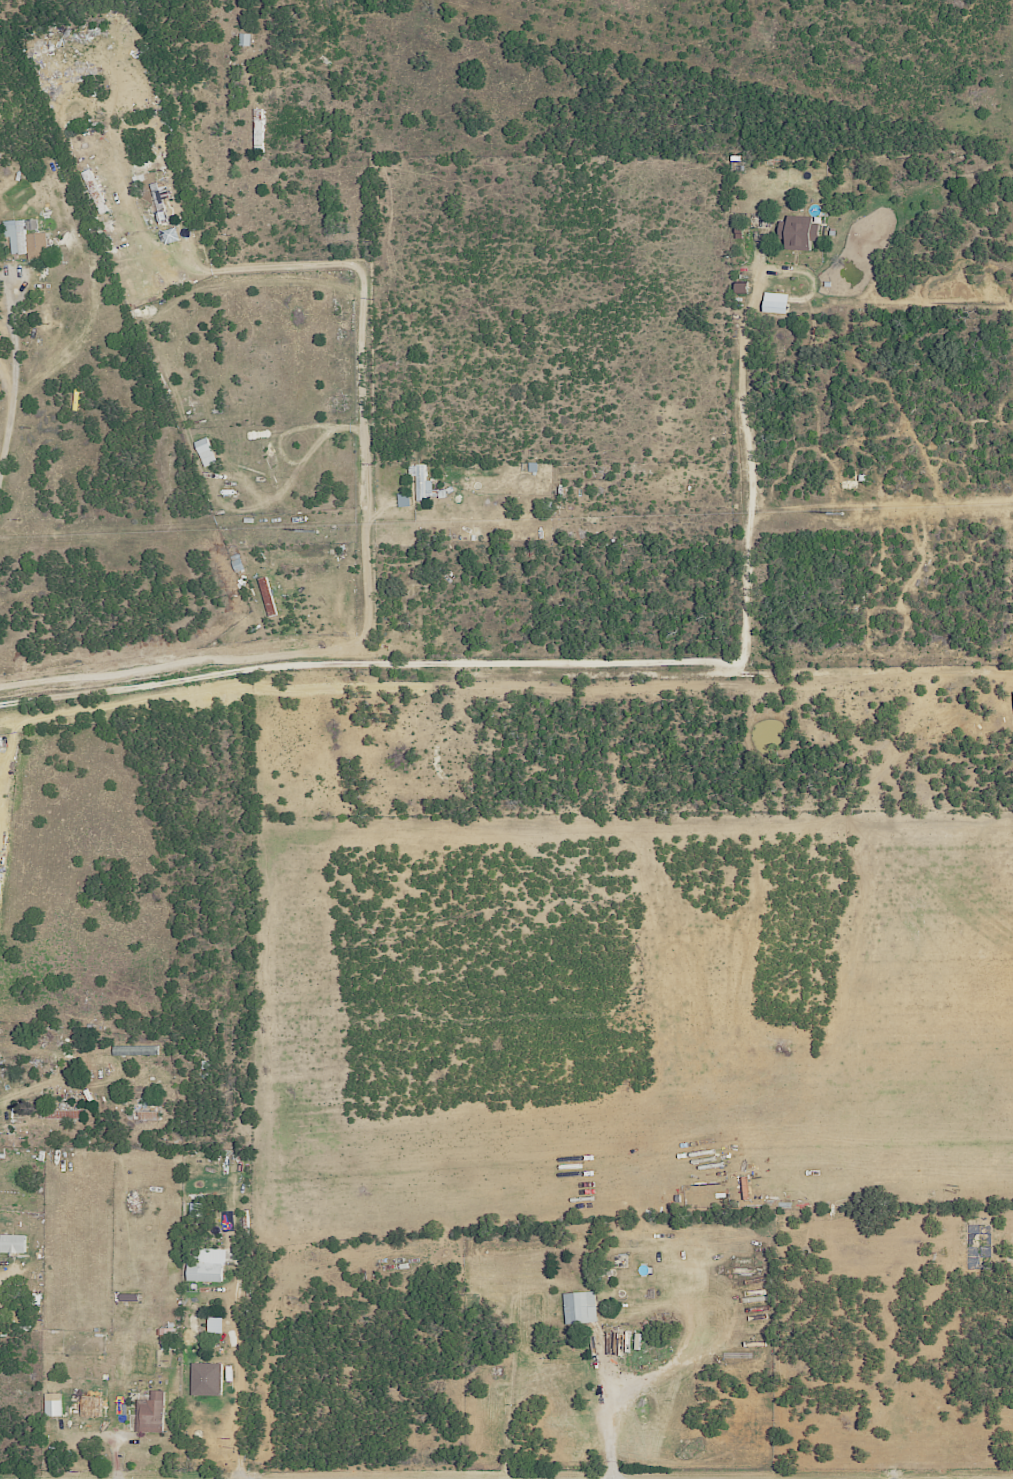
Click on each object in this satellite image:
building: (243, 39)
road: (127, 209)
building: (796, 233)
building: (24, 238)
building: (773, 303)
road: (362, 355)
road: (15, 403)
road: (746, 449)
building: (204, 452)
building: (419, 482)
building: (402, 500)
road: (823, 506)
power tower: (840, 516)
power tower: (316, 535)
building: (266, 596)
road: (368, 663)
road: (875, 673)
building: (11, 1244)
building: (205, 1266)
building: (578, 1307)
building: (213, 1325)
building: (168, 1335)
road: (237, 1354)
road: (658, 1359)
building: (205, 1379)
building: (51, 1405)
building: (89, 1406)
building: (149, 1413)

